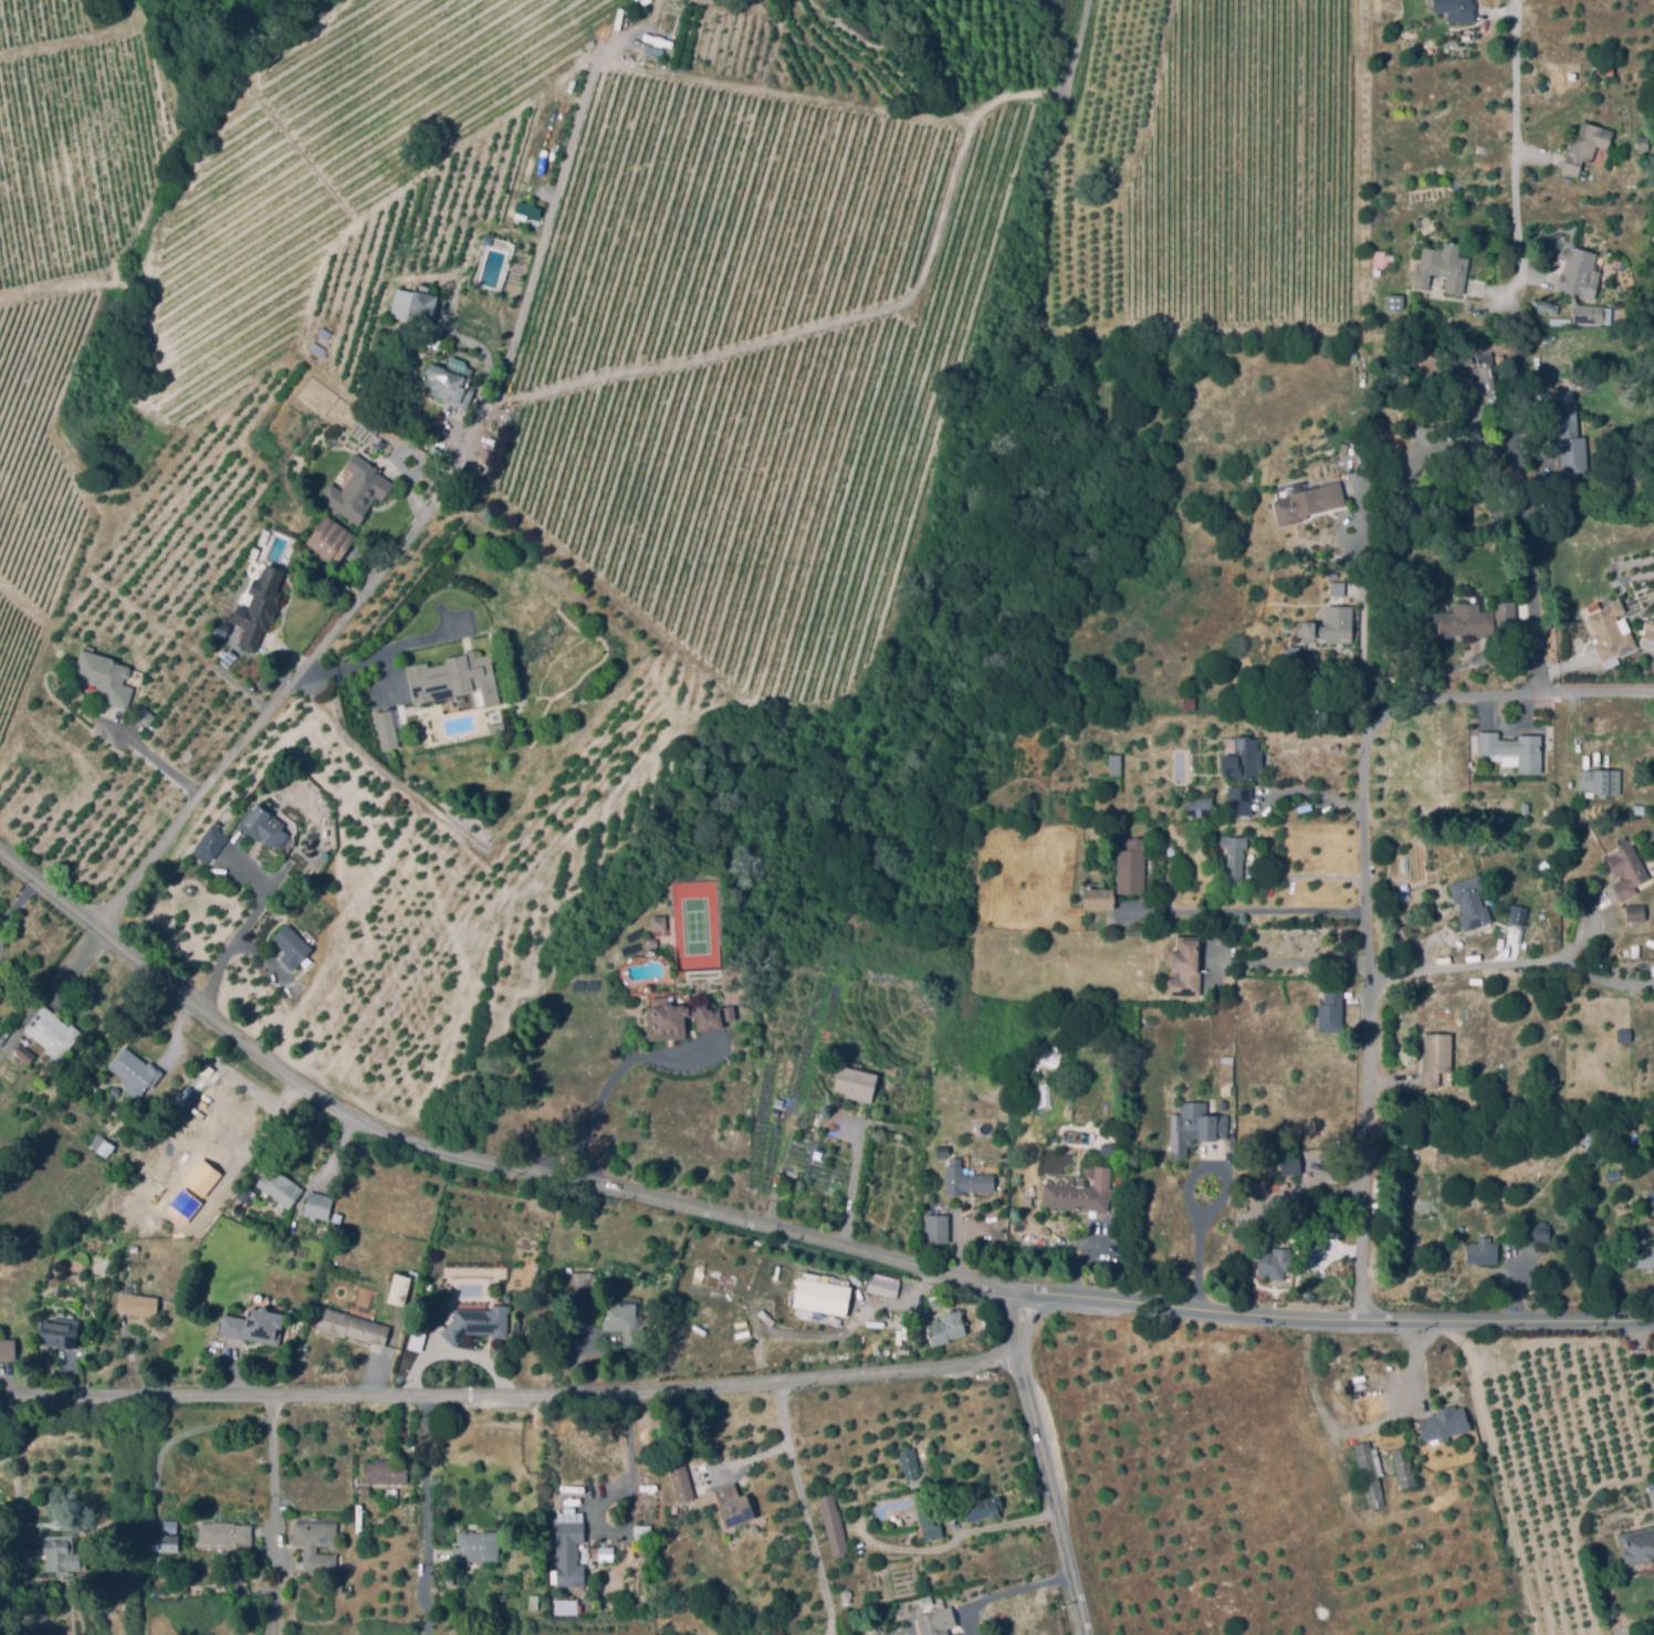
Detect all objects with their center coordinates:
building: (1459, 10)
building: (663, 30)
building: (1584, 146)
road: (547, 222)
building: (1381, 261)
building: (1443, 270)
building: (1579, 273)
building: (1532, 302)
building: (1393, 303)
building: (422, 308)
building: (1546, 308)
building: (1469, 311)
building: (1588, 313)
building: (1384, 325)
road: (1511, 346)
building: (1530, 358)
building: (1486, 377)
building: (449, 386)
building: (1571, 443)
building: (1417, 457)
building: (359, 490)
building: (1308, 503)
building: (333, 539)
building: (1338, 589)
building: (260, 608)
building: (1503, 614)
building: (1463, 623)
building: (1330, 626)
building: (223, 628)
building: (1286, 631)
building: (1606, 633)
road: (1360, 635)
building: (1650, 637)
building: (1292, 653)
road: (380, 656)
building: (227, 657)
building: (456, 675)
building: (104, 677)
road: (292, 684)
building: (1189, 704)
building: (143, 716)
building: (499, 723)
building: (386, 729)
building: (1514, 751)
building: (1244, 758)
road: (153, 763)
building: (1116, 764)
building: (1611, 775)
building: (1587, 779)
building: (1240, 800)
road: (1319, 800)
building: (1526, 807)
building: (1200, 808)
building: (1639, 809)
building: (264, 827)
building: (212, 842)
building: (1172, 852)
building: (1235, 856)
building: (1131, 868)
building: (1629, 871)
road: (1367, 879)
road: (265, 892)
building: (1099, 899)
building: (1470, 902)
road: (1252, 908)
building: (1637, 910)
building: (1518, 914)
building: (659, 922)
building: (1278, 932)
building: (651, 943)
building: (1266, 943)
building: (292, 946)
building: (1636, 951)
road: (228, 956)
building: (1190, 962)
road: (1297, 964)
road: (1467, 967)
building: (60, 972)
building: (0, 989)
building: (0, 993)
building: (1098, 995)
building: (1331, 1010)
building: (713, 1018)
building: (667, 1019)
building: (1278, 1025)
building: (1622, 1035)
building: (52, 1037)
building: (24, 1054)
building: (1436, 1058)
building: (1227, 1070)
building: (136, 1072)
road: (614, 1082)
building: (858, 1083)
building: (779, 1102)
building: (1196, 1126)
building: (1250, 1131)
building: (1290, 1131)
building: (103, 1144)
building: (943, 1152)
road: (471, 1157)
building: (1319, 1164)
building: (1089, 1172)
building: (965, 1178)
road: (854, 1186)
building: (276, 1187)
building: (1275, 1187)
building: (1082, 1194)
building: (1318, 1205)
building: (320, 1206)
building: (337, 1217)
building: (938, 1229)
building: (1535, 1232)
building: (1482, 1254)
building: (1645, 1258)
building: (1271, 1261)
road: (1197, 1265)
building: (414, 1275)
building: (584, 1282)
building: (884, 1286)
building: (397, 1289)
building: (720, 1297)
building: (880, 1300)
building: (936, 1303)
building: (138, 1304)
building: (200, 1304)
building: (833, 1306)
building: (479, 1322)
road: (1338, 1323)
building: (626, 1324)
building: (254, 1325)
building: (355, 1325)
building: (948, 1328)
building: (60, 1332)
building: (418, 1337)
building: (8, 1350)
road: (1411, 1366)
road: (1645, 1370)
road: (511, 1396)
building: (1445, 1424)
road: (629, 1458)
building: (910, 1463)
road: (746, 1466)
road: (1045, 1466)
building: (1403, 1467)
building: (387, 1470)
building: (523, 1472)
building: (1371, 1474)
building: (683, 1481)
building: (363, 1491)
building: (165, 1502)
building: (734, 1505)
building: (984, 1509)
road: (803, 1510)
road: (273, 1515)
road: (423, 1517)
building: (360, 1518)
building: (834, 1523)
building: (933, 1532)
building: (229, 1536)
building: (170, 1543)
building: (1637, 1545)
building: (477, 1548)
building: (310, 1549)
building: (61, 1554)
building: (569, 1554)
building: (338, 1589)
building: (348, 1589)
road: (1006, 1596)
building: (534, 1602)
building: (545, 1604)
building: (567, 1607)
building: (932, 1623)

